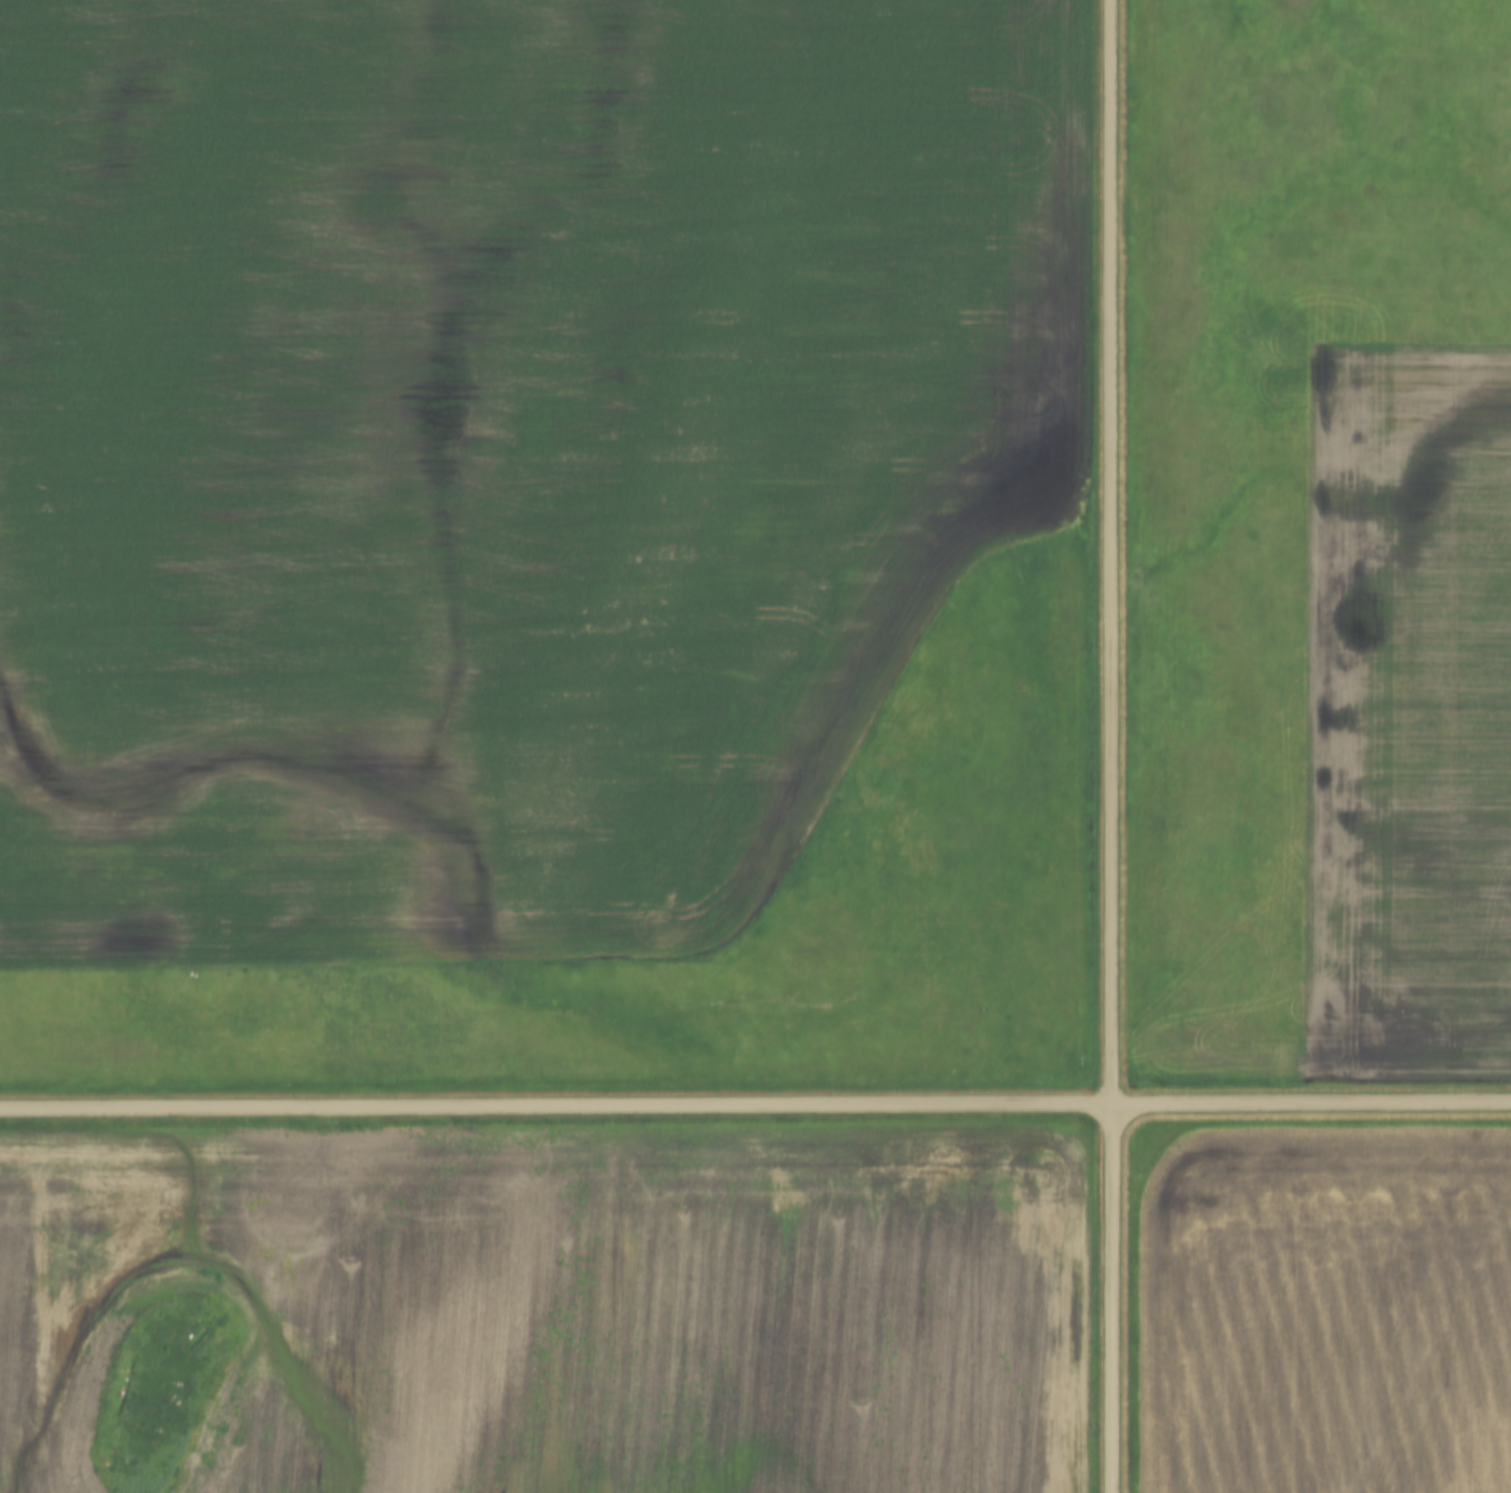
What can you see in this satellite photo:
road: (1114, 746)
road: (755, 1103)

